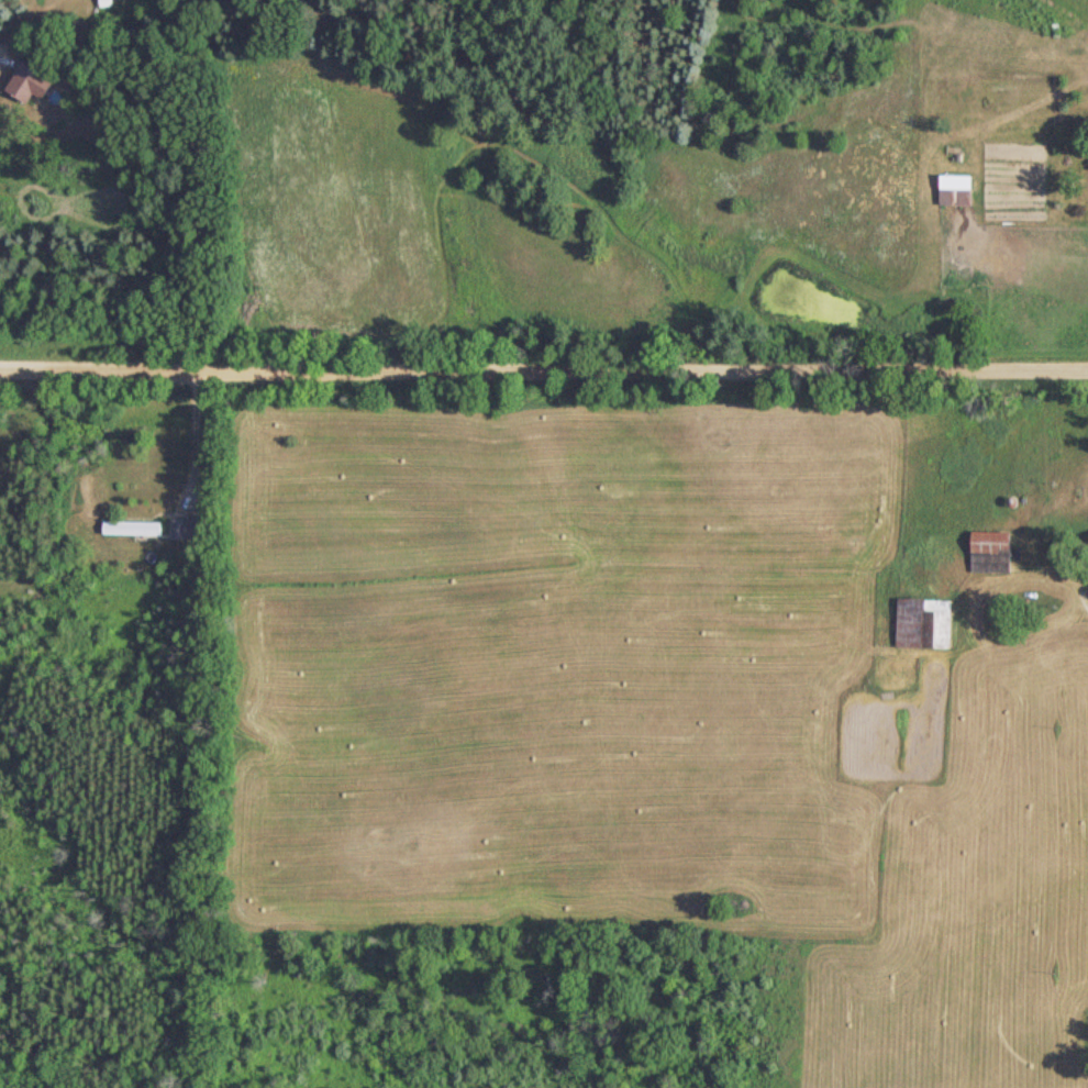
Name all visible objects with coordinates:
building: (21, 81)
building: (947, 189)
road: (544, 353)
building: (909, 623)

